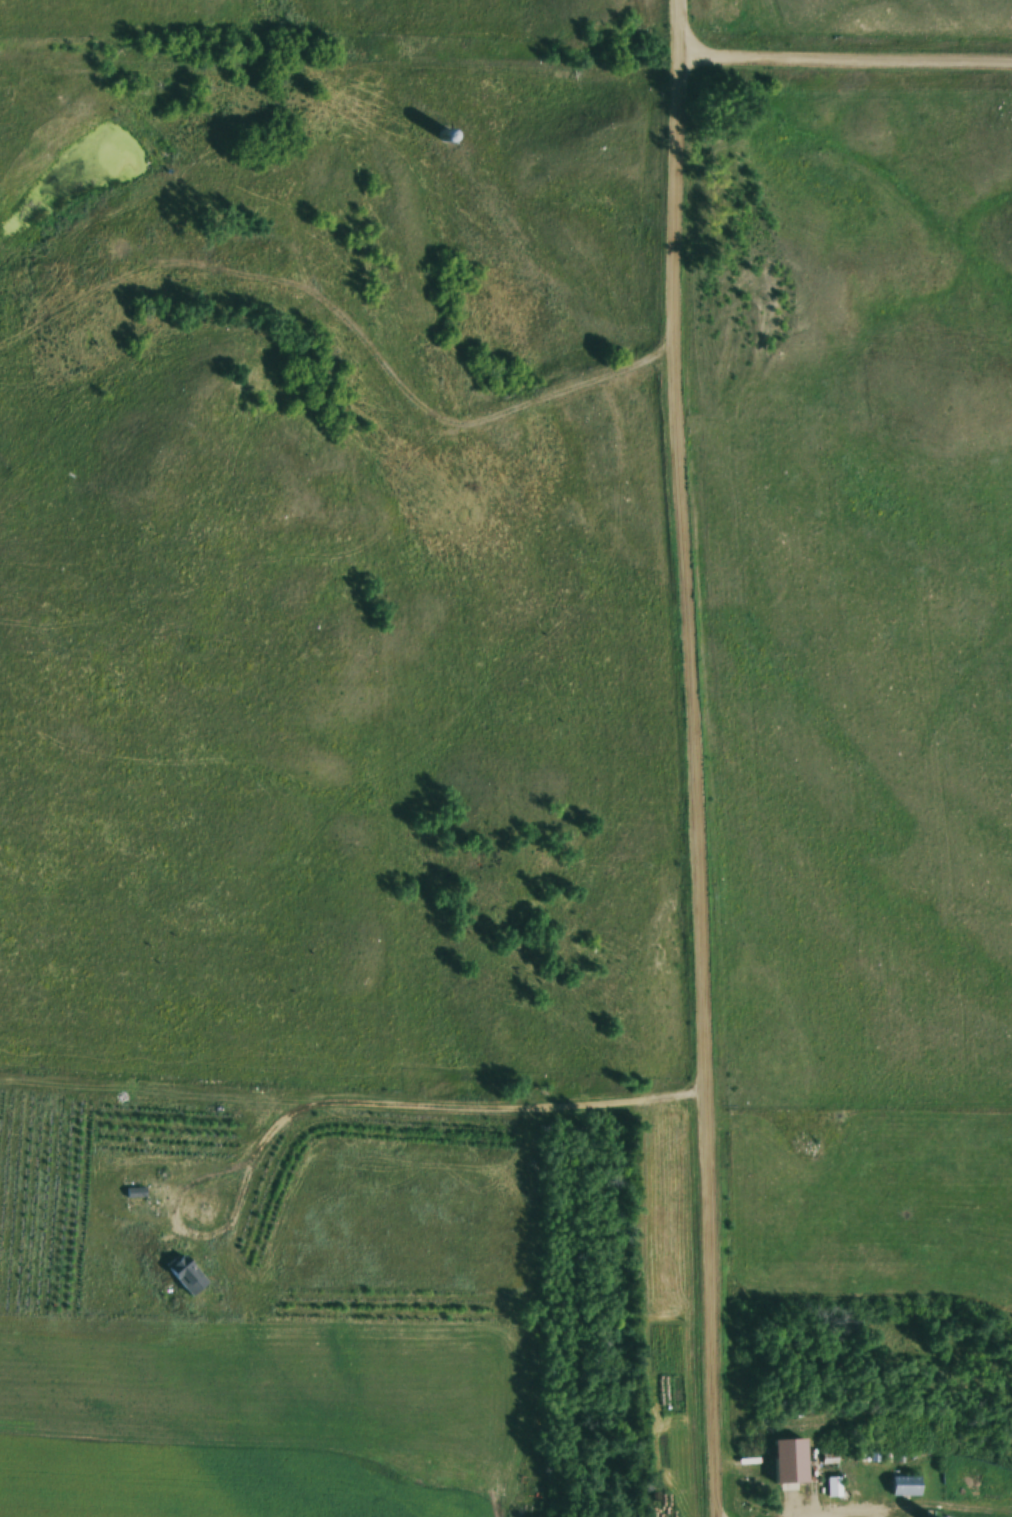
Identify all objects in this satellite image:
road: (849, 62)
building: (447, 135)
building: (269, 260)
road: (450, 420)
road: (700, 758)
building: (791, 1462)
building: (906, 1486)
building: (834, 1487)
road: (857, 1511)

